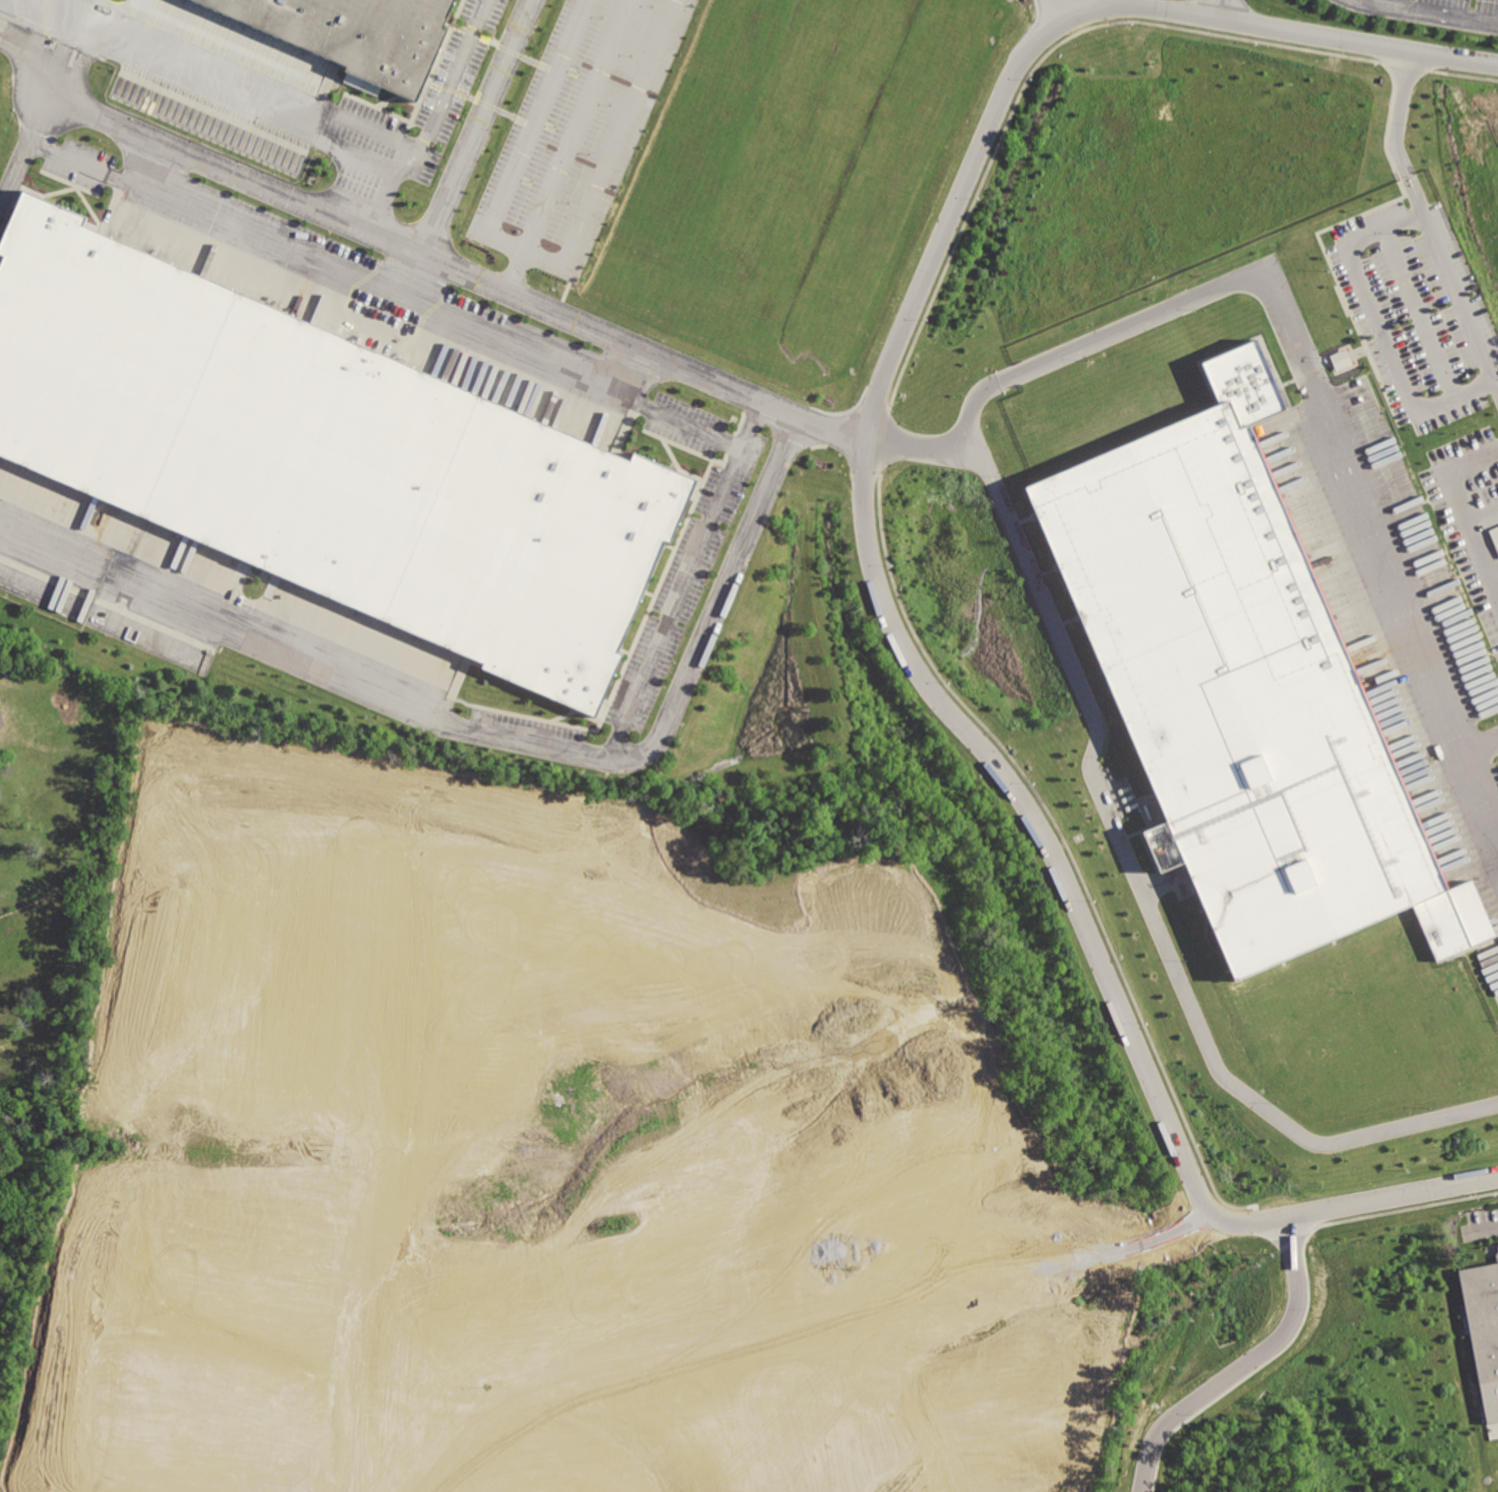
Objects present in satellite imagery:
road: (1068, 9)
road: (1219, 10)
road: (1435, 11)
road: (1054, 32)
building: (359, 35)
road: (449, 83)
road: (233, 88)
road: (476, 125)
road: (569, 144)
road: (70, 155)
road: (17, 172)
road: (385, 193)
road: (1426, 220)
road: (1495, 222)
road: (415, 247)
road: (541, 255)
road: (412, 273)
road: (445, 317)
road: (1290, 323)
road: (1387, 330)
building: (1341, 359)
road: (621, 367)
building: (327, 459)
road: (1466, 508)
building: (1494, 537)
road: (1496, 577)
road: (299, 665)
building: (1243, 687)
building: (0, 715)
road: (648, 749)
road: (1486, 750)
road: (1147, 900)
road: (1098, 949)
road: (1489, 1228)
building: (1482, 1316)
road: (1241, 1364)

